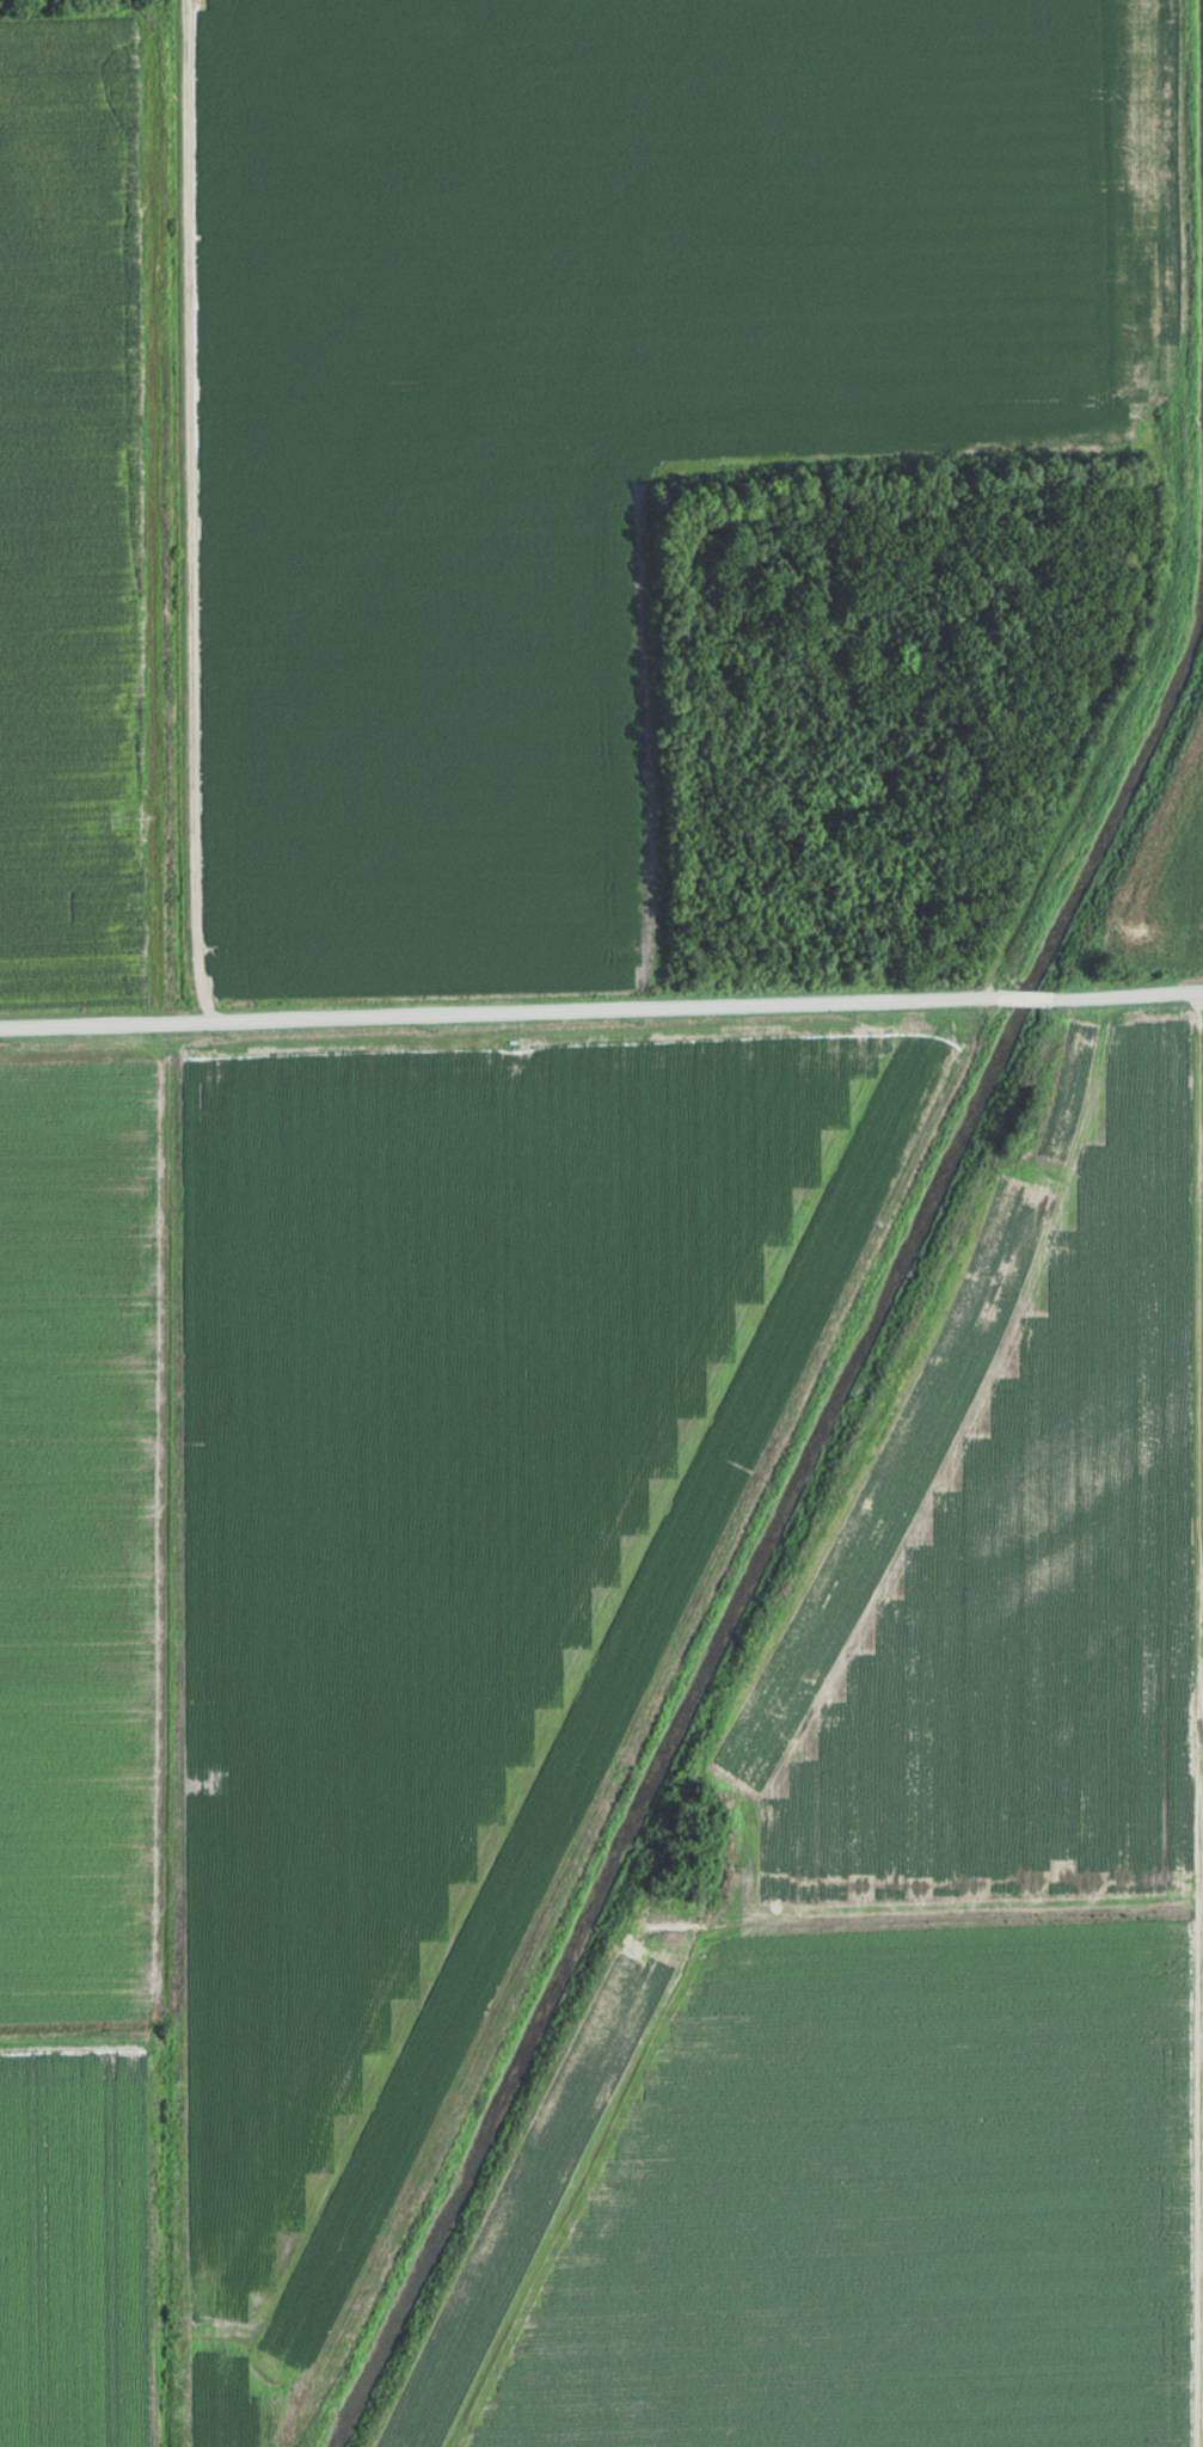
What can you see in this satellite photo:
road: (601, 1006)

